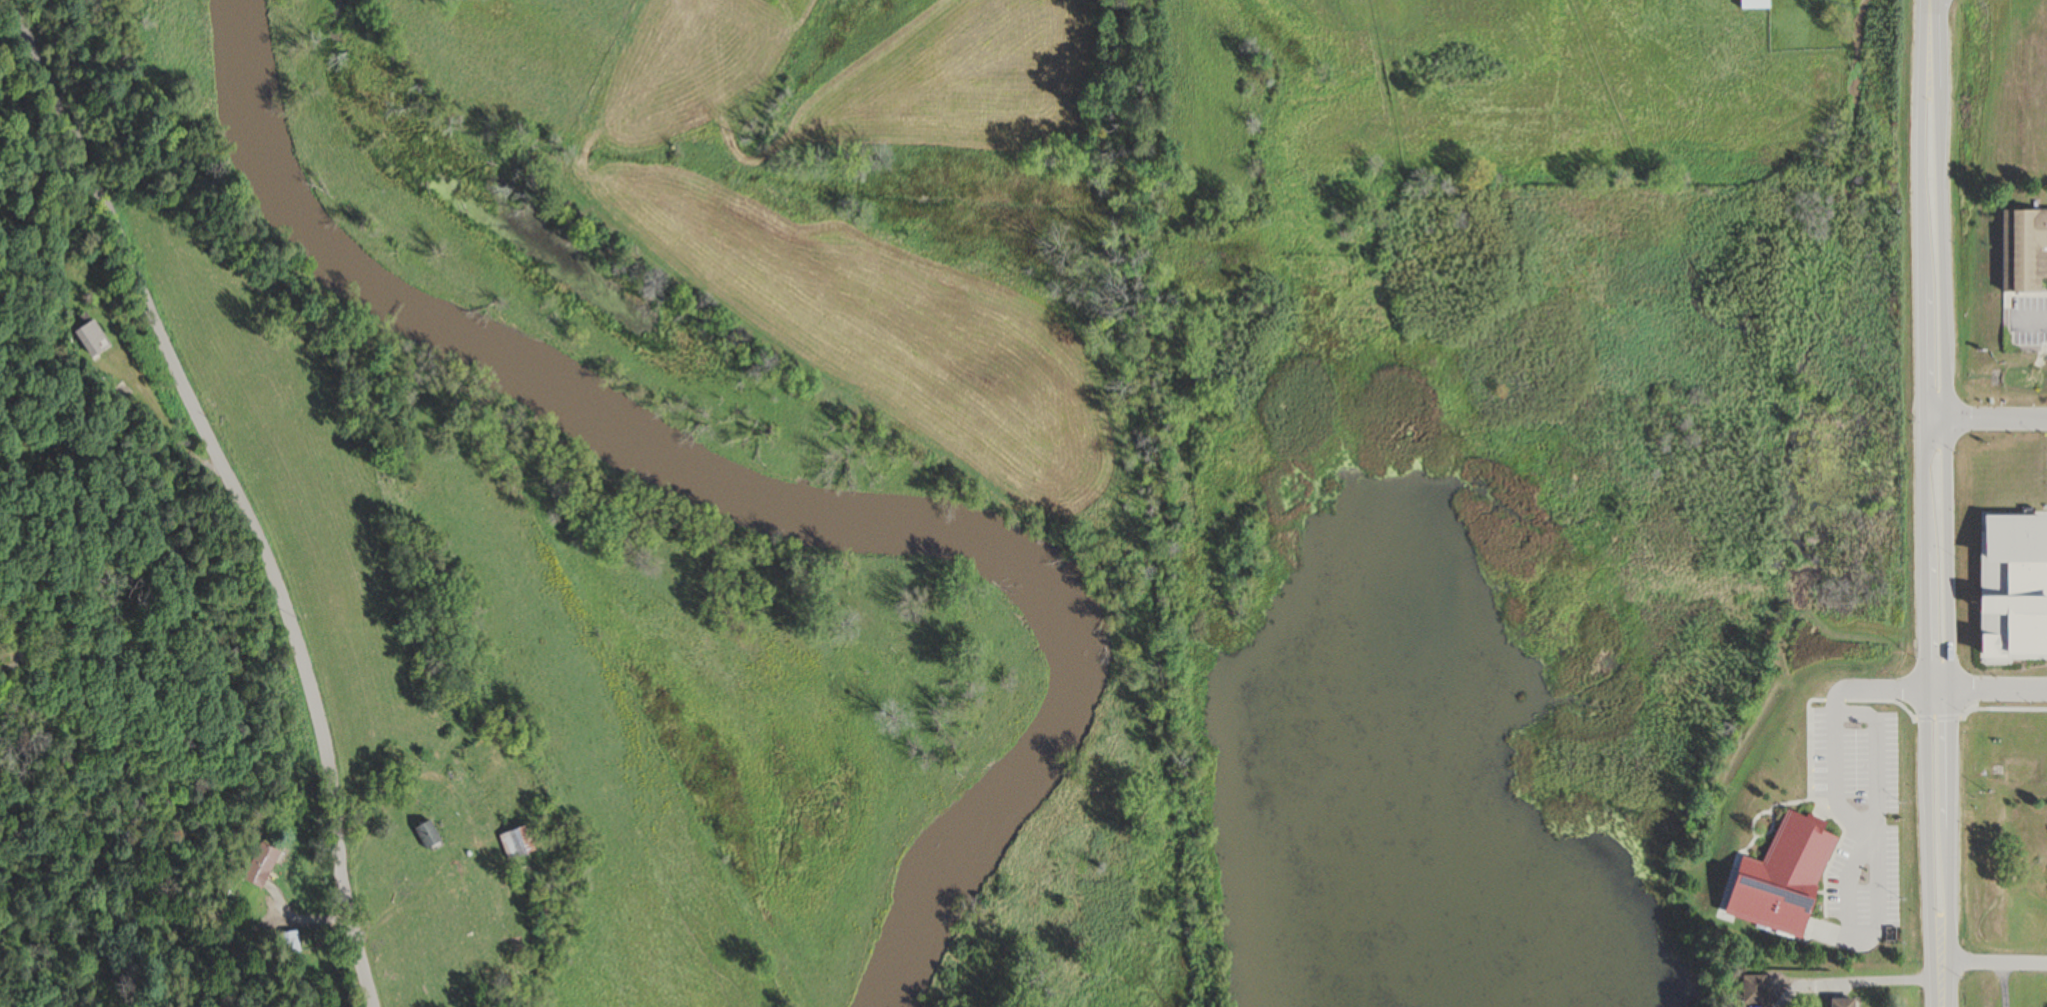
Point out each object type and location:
building: (1751, 3)
quarry: (1989, 98)
crop: (852, 205)
building: (2023, 249)
building: (90, 338)
road: (1992, 415)
road: (232, 488)
river: (765, 499)
road: (1938, 503)
building: (2012, 588)
road: (1993, 688)
building: (425, 835)
building: (515, 843)
building: (258, 866)
building: (1781, 877)
building: (288, 943)
road: (1994, 963)
building: (1751, 990)
building: (1840, 1003)

